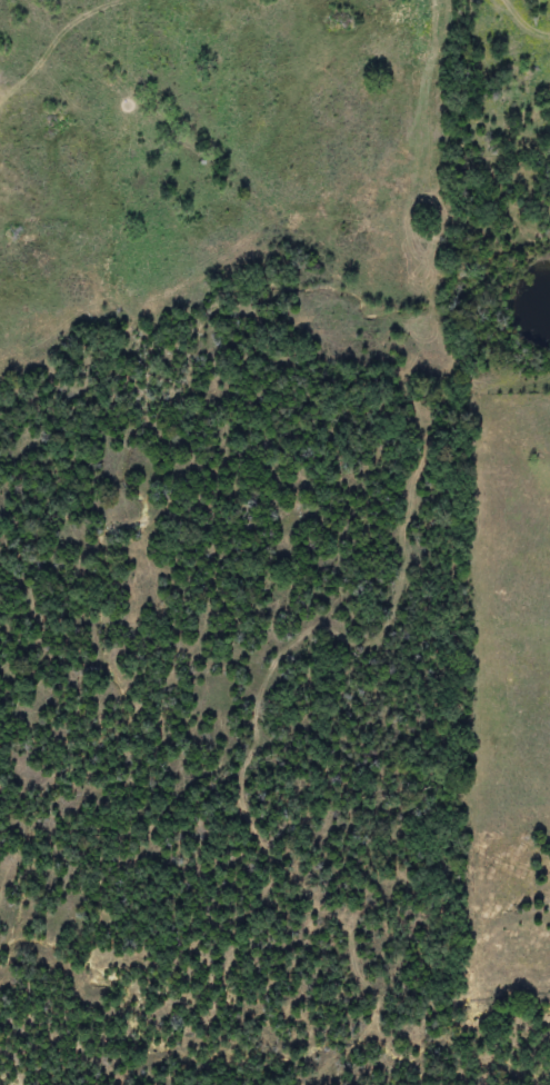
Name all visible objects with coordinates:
road: (44, 46)

